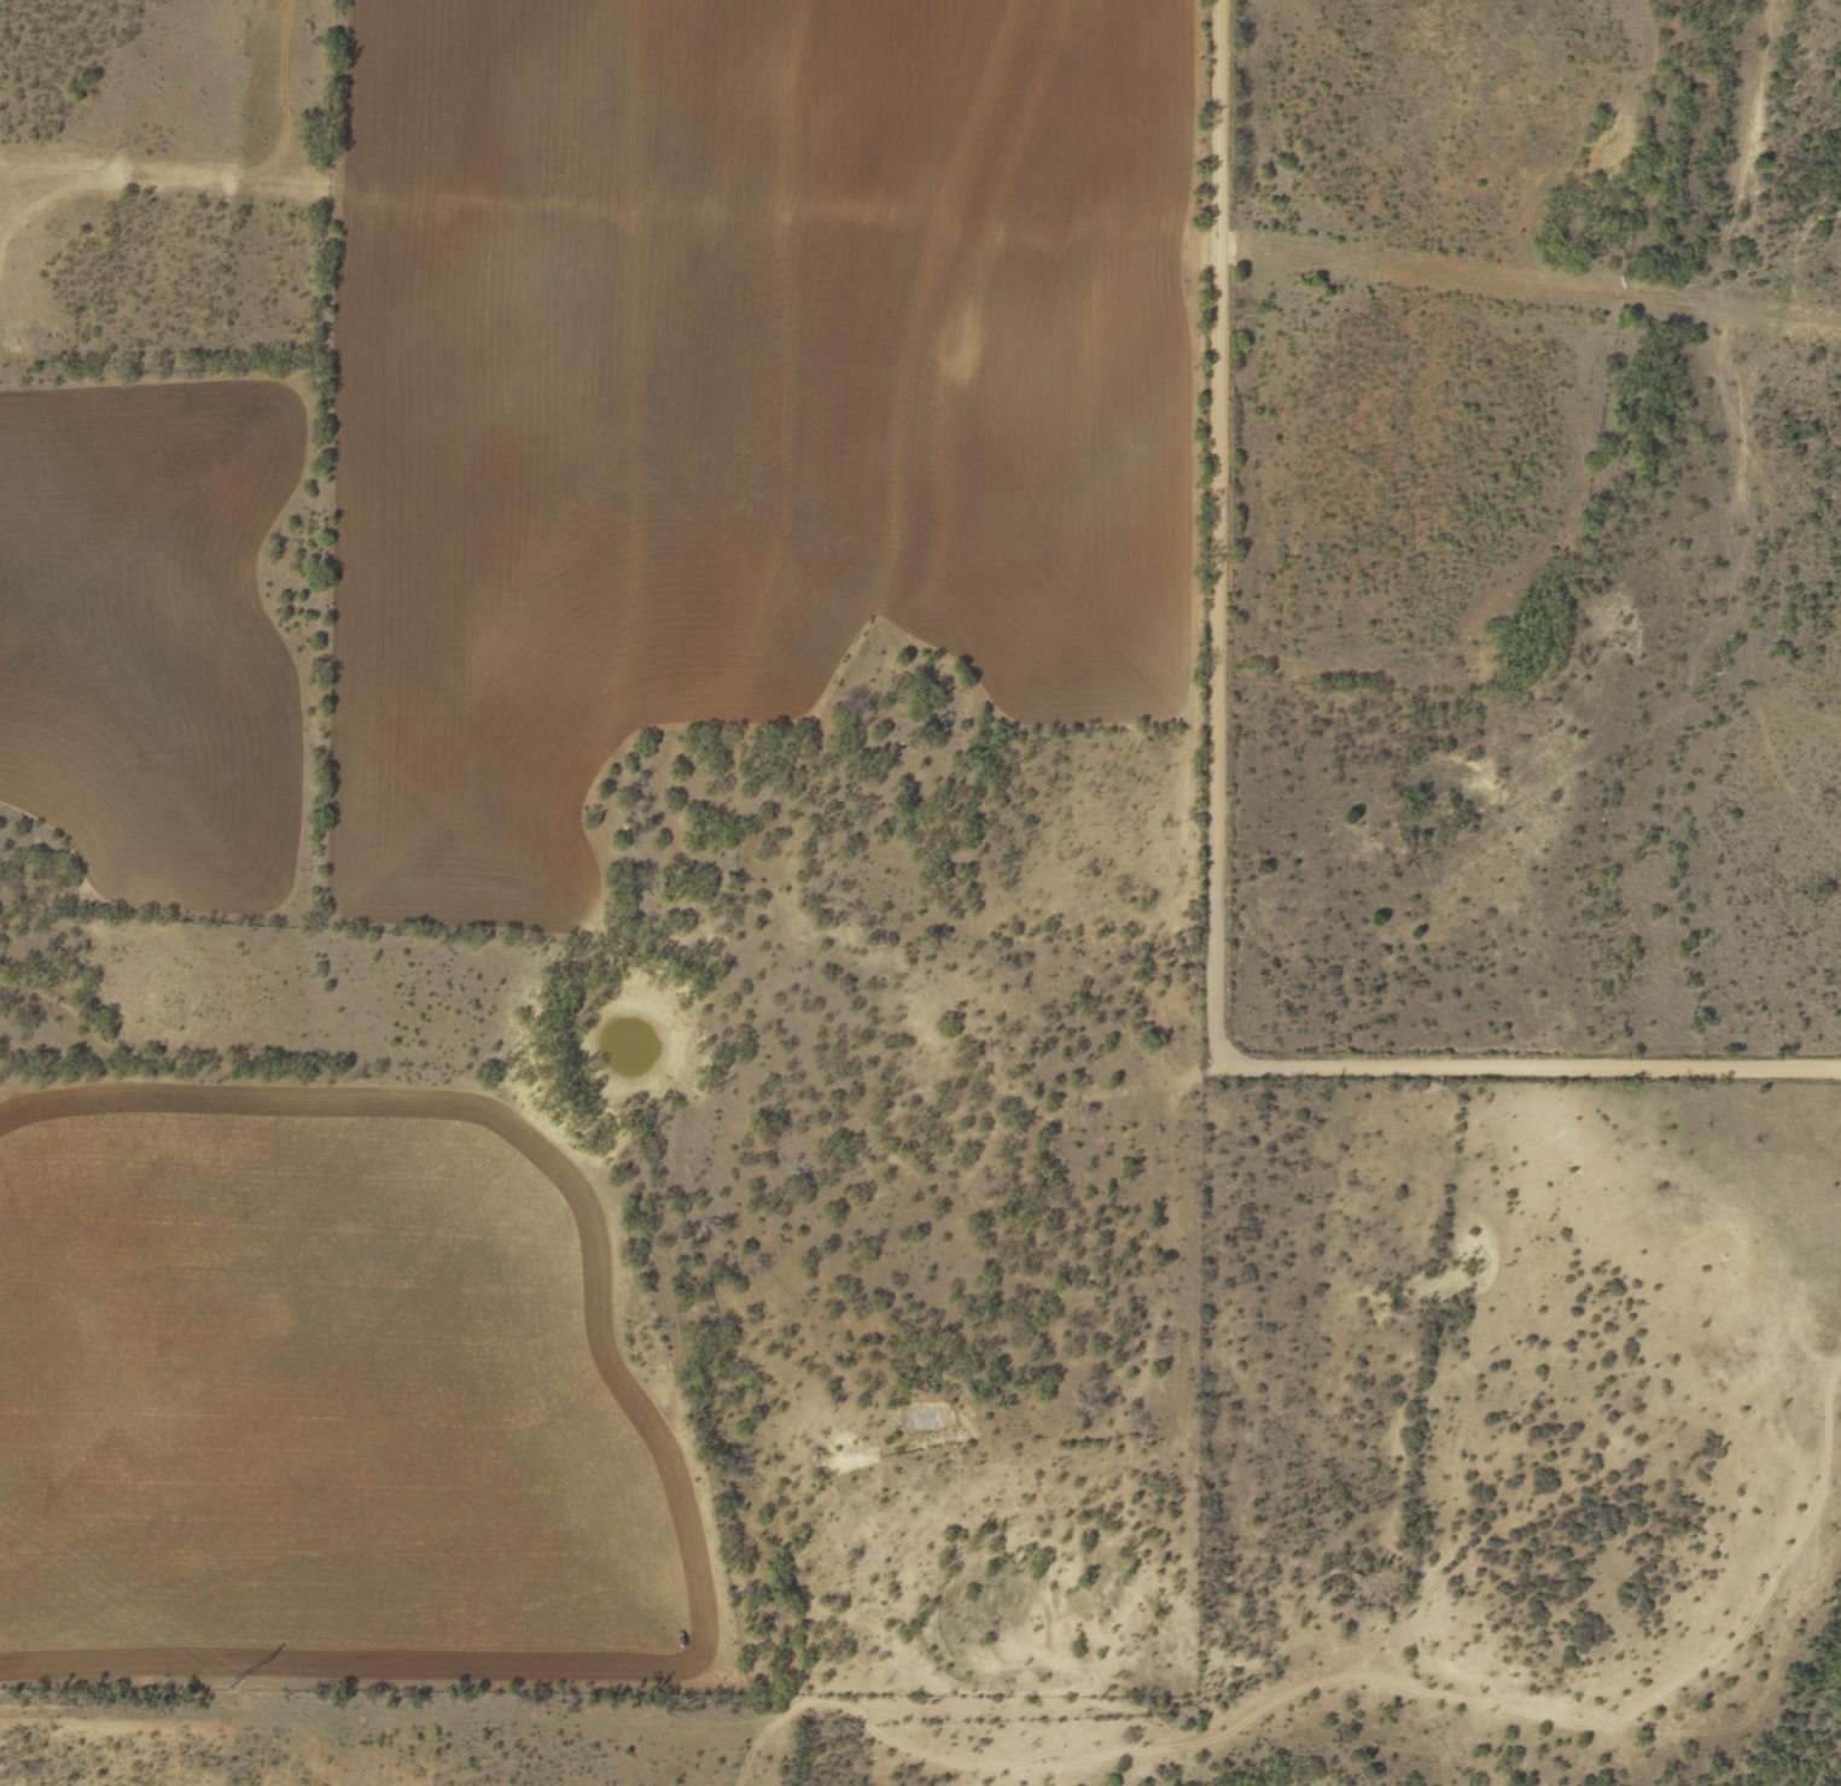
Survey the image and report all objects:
road: (1714, 510)
road: (1200, 854)
road: (1129, 1465)
road: (1746, 1657)
power tower: (233, 1682)
road: (1269, 1762)

